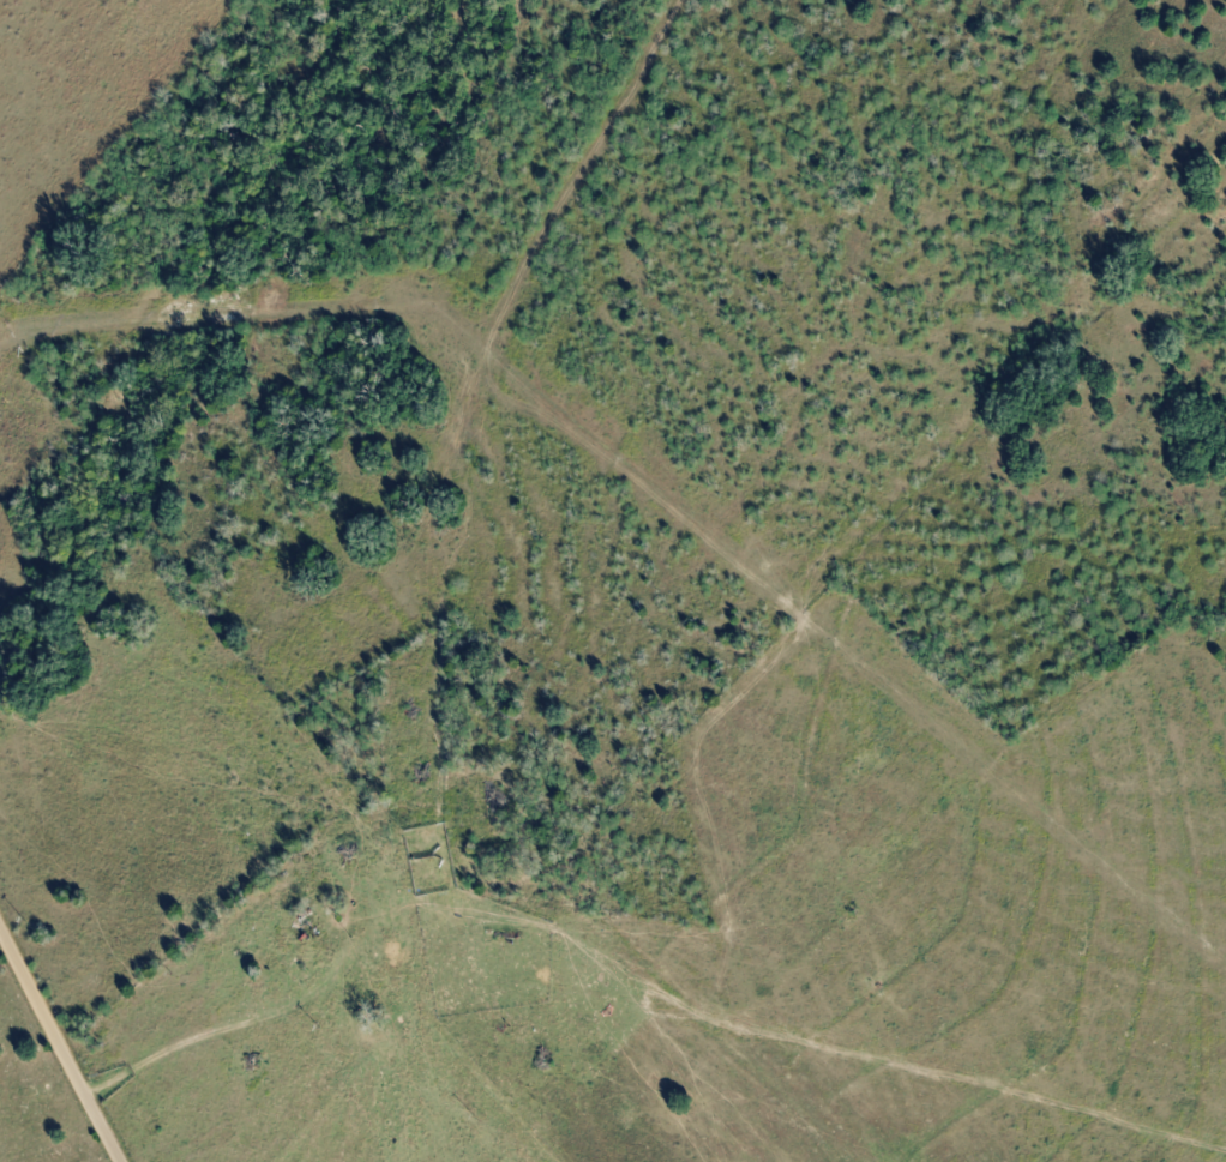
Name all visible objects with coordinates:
road: (271, 1026)
road: (62, 1038)

